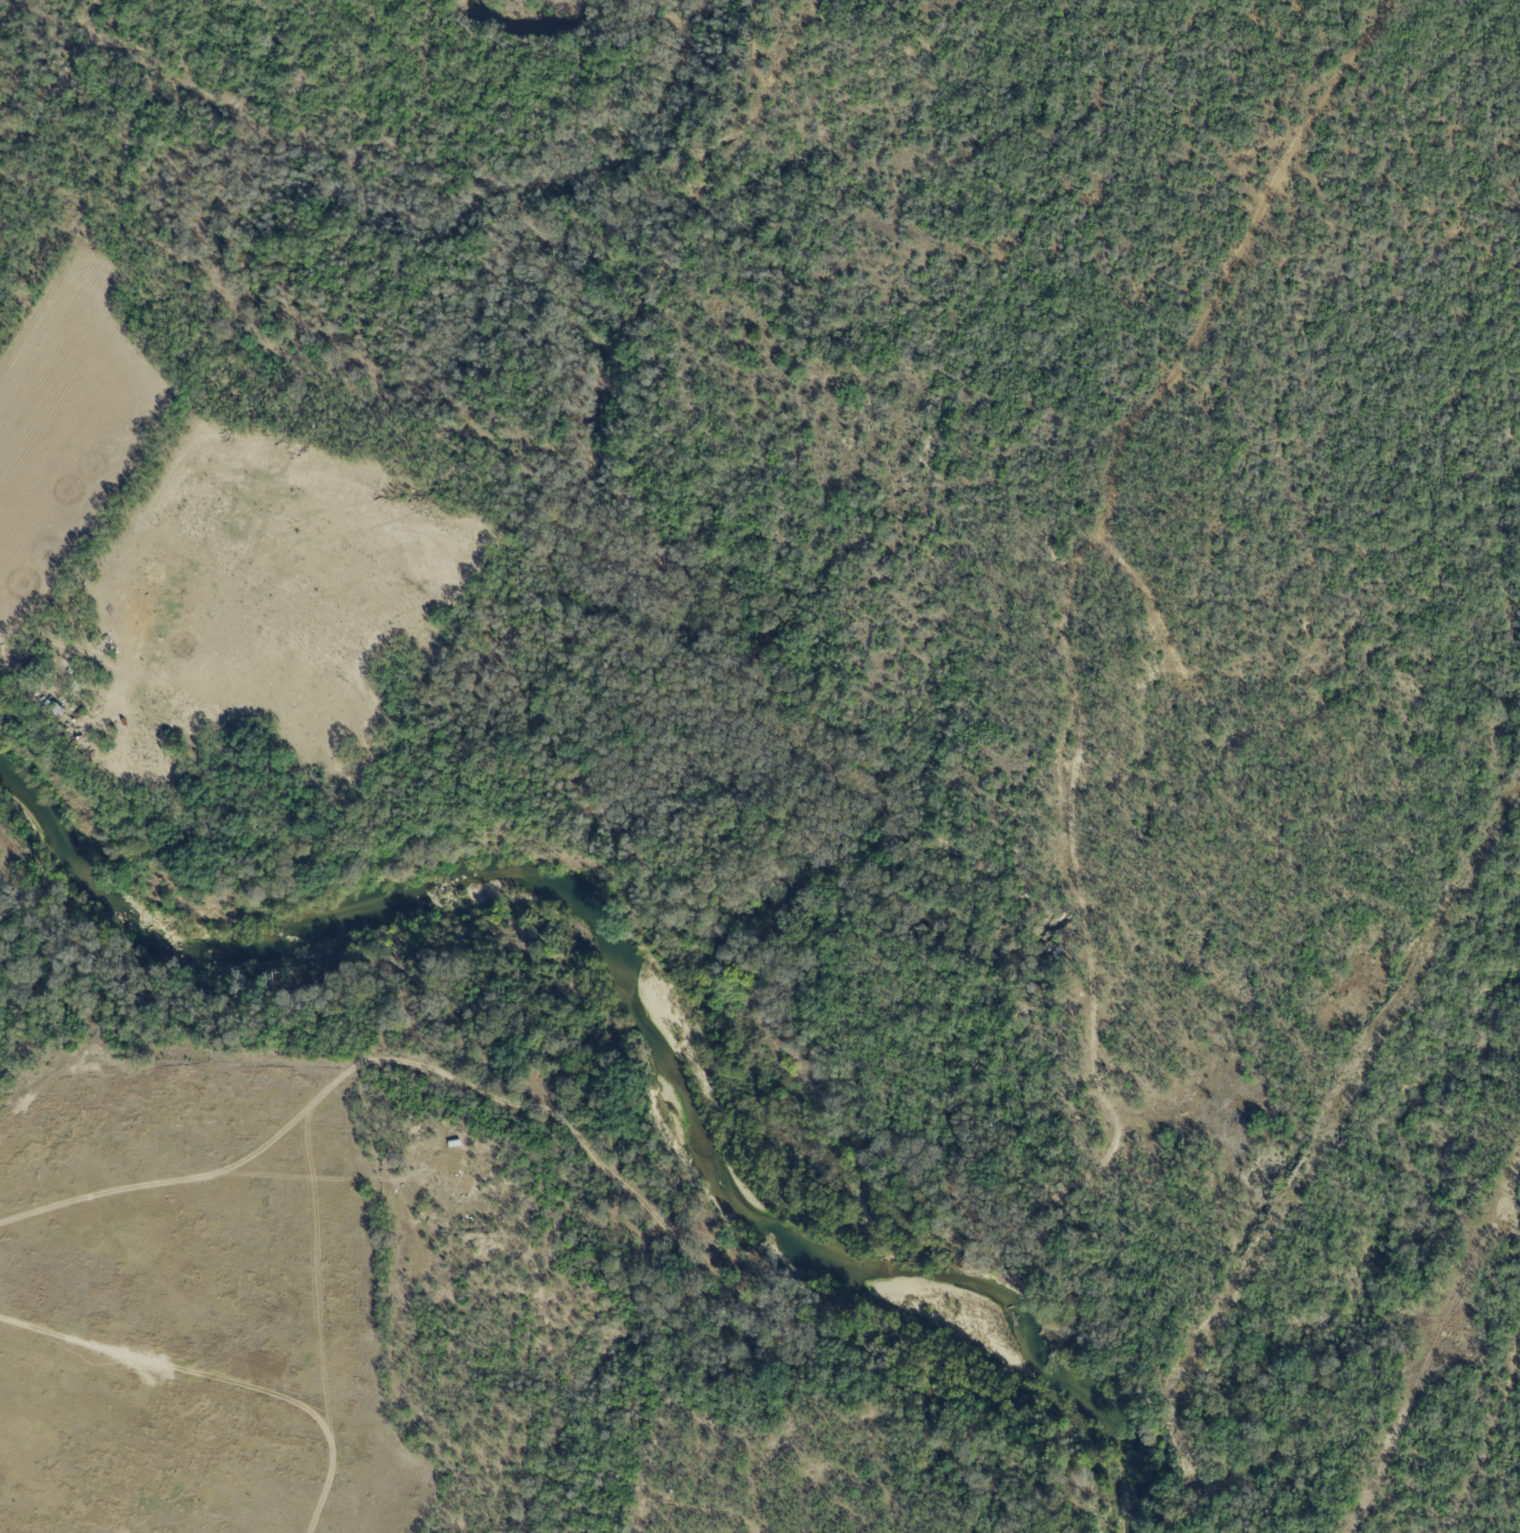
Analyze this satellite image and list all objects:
river: (640, 1018)

